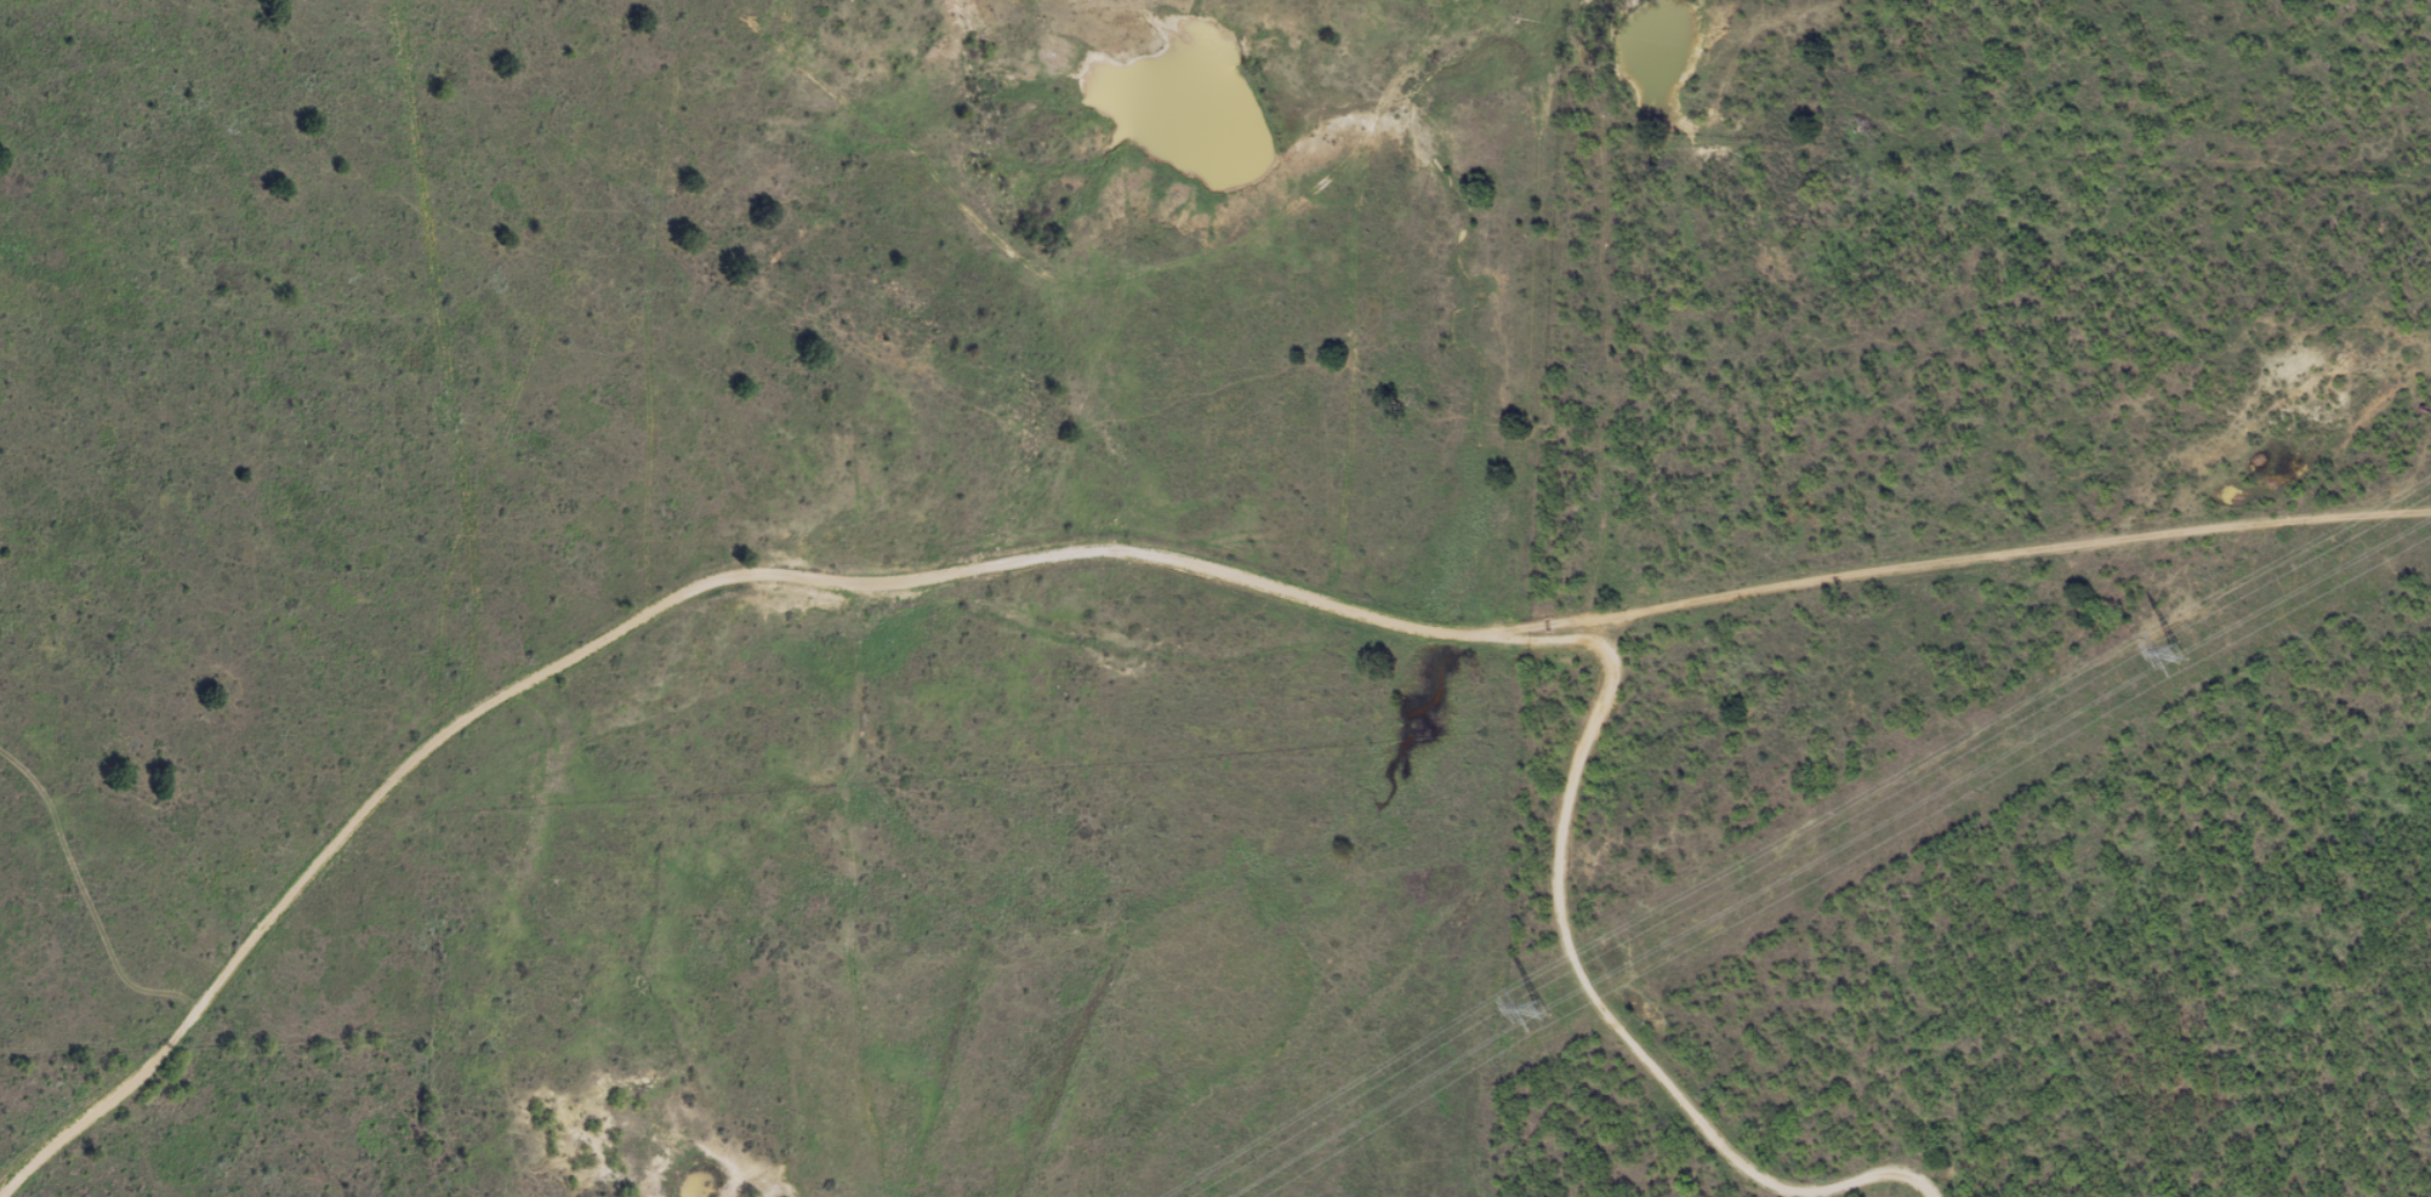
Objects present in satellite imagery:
road: (1545, 315)
road: (1122, 568)
power tower: (2176, 654)
power tower: (1544, 1010)

